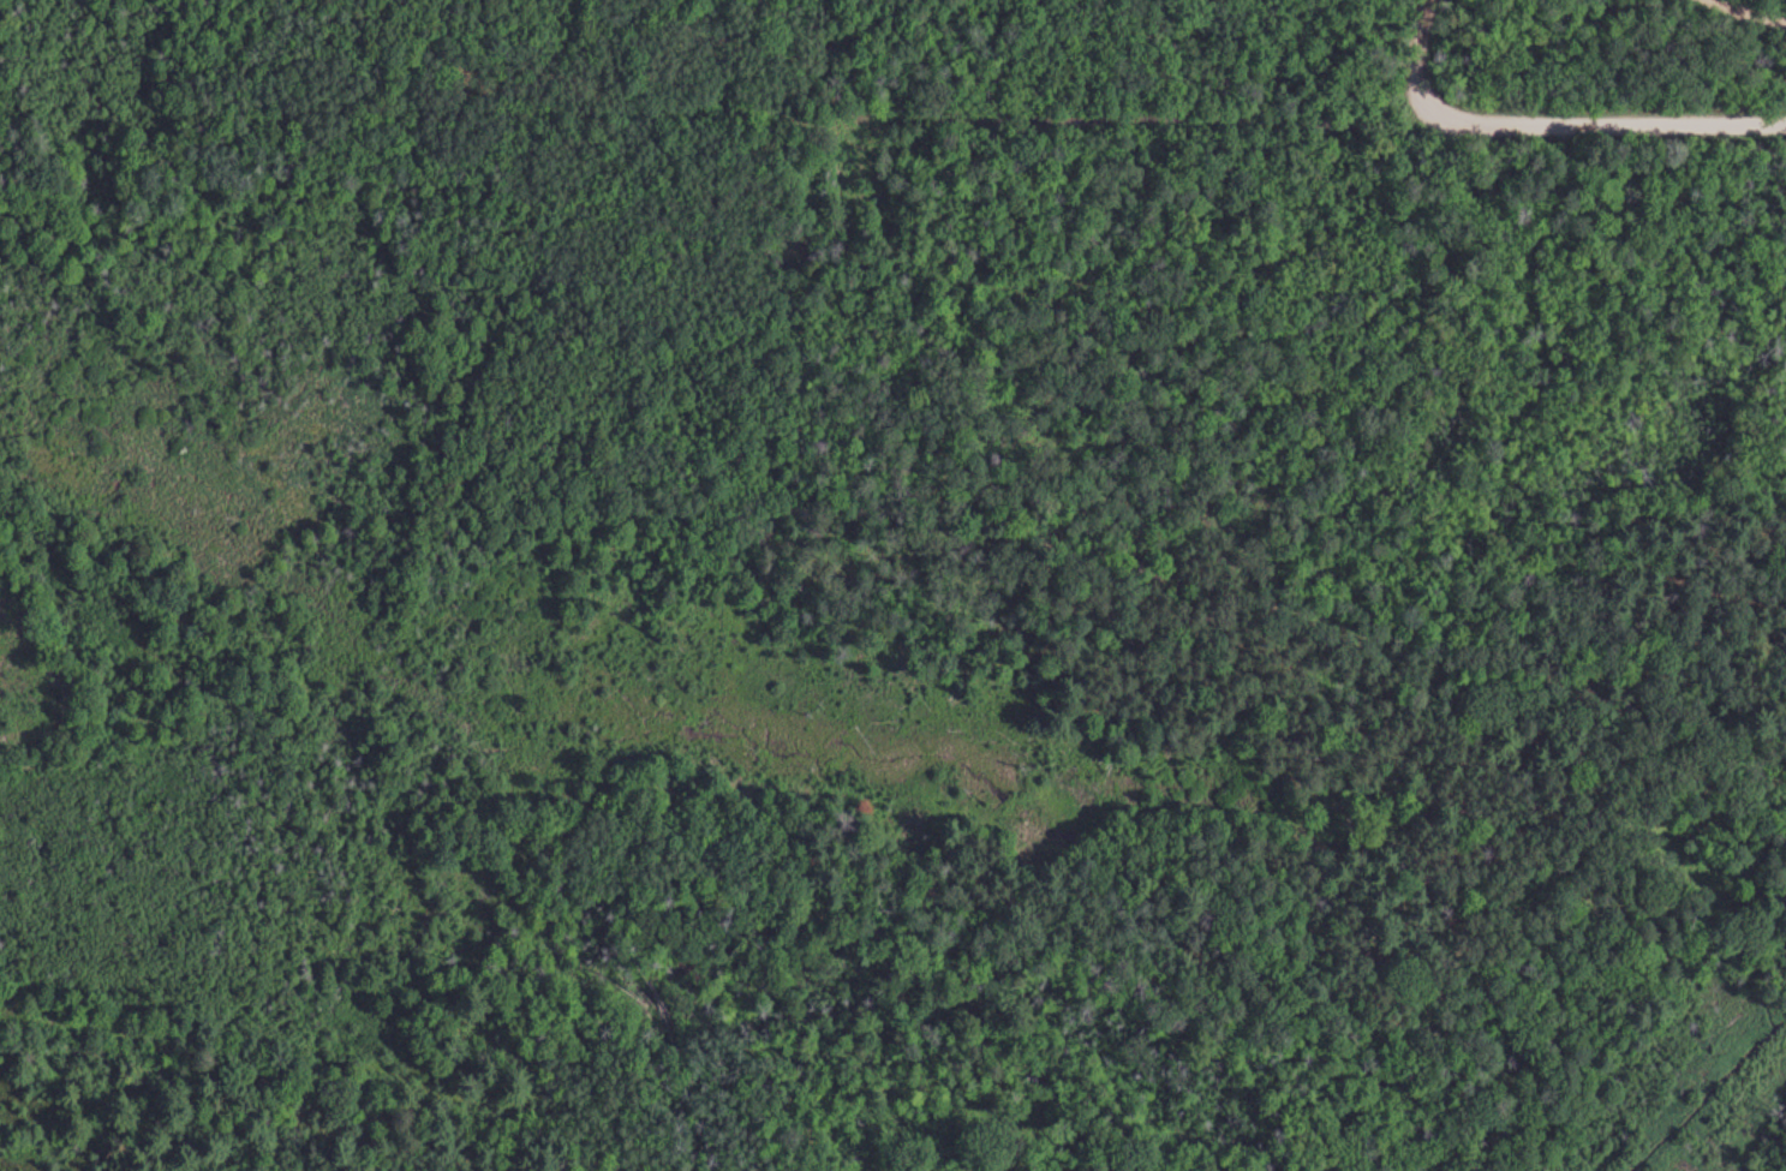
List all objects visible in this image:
road: (1744, 11)
road: (1416, 68)
road: (1620, 119)

